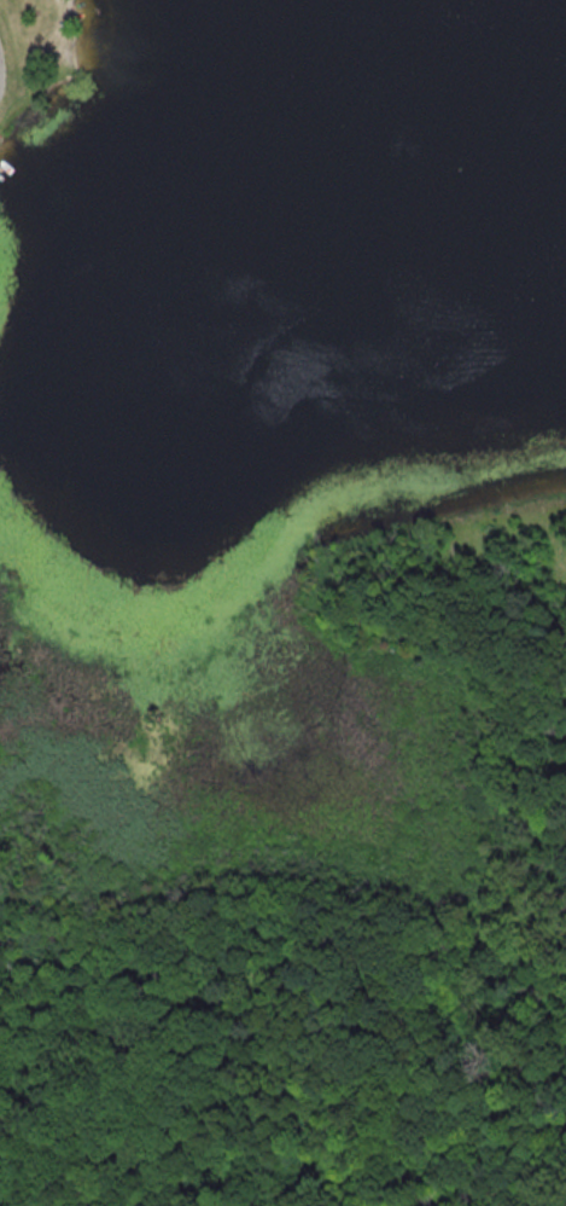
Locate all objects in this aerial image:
park: (35, 50)
pier: (0, 168)
park: (2, 587)
park: (300, 893)

